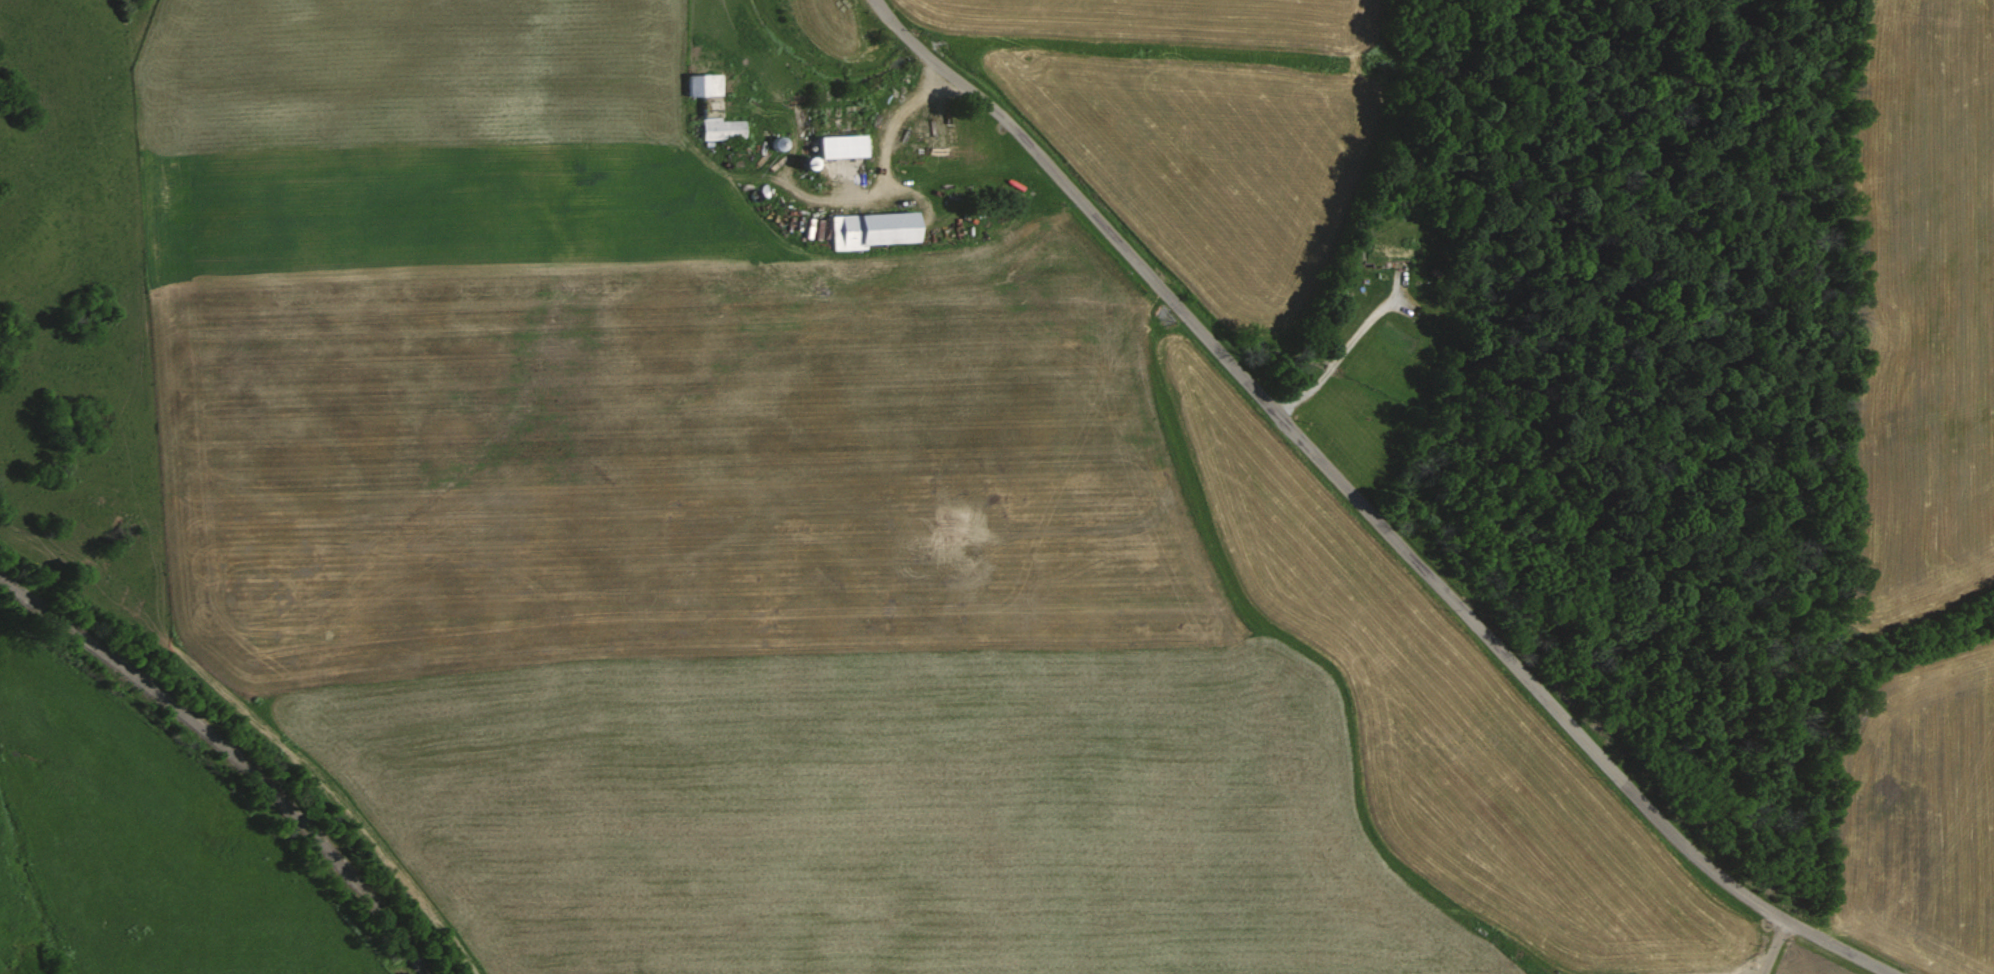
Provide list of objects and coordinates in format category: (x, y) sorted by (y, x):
building: (707, 83)
building: (725, 128)
building: (846, 145)
road: (885, 169)
building: (876, 229)
road: (1340, 356)
road: (1368, 509)
road: (232, 758)
road: (1772, 945)

